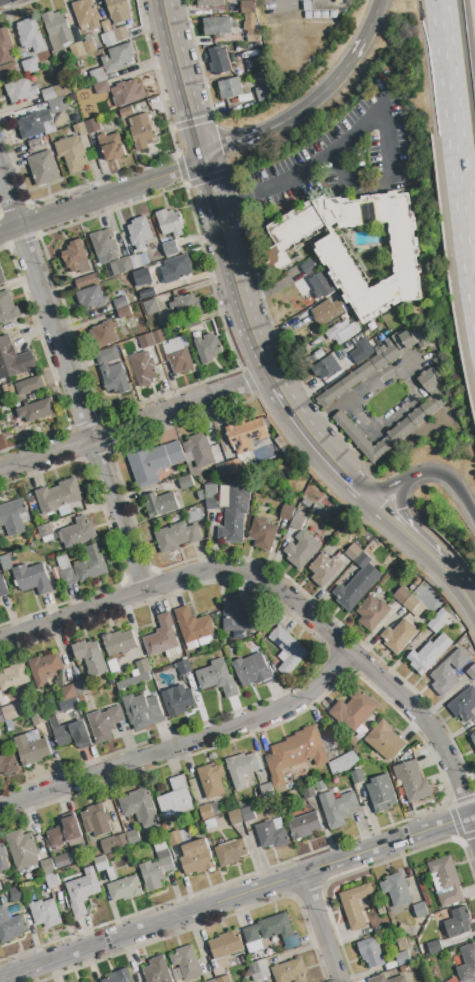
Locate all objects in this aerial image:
building: (209, 2)
building: (246, 7)
building: (118, 10)
building: (86, 15)
building: (216, 27)
building: (251, 29)
building: (57, 30)
building: (107, 34)
building: (120, 34)
building: (30, 35)
road: (359, 44)
building: (89, 45)
building: (5, 47)
building: (77, 50)
building: (118, 57)
building: (219, 61)
building: (254, 64)
building: (30, 66)
building: (8, 72)
building: (97, 76)
building: (101, 88)
building: (230, 88)
building: (20, 91)
building: (262, 91)
building: (55, 92)
building: (128, 92)
building: (57, 105)
building: (139, 106)
building: (126, 112)
road: (386, 116)
building: (36, 124)
building: (92, 126)
road: (271, 128)
building: (80, 129)
building: (142, 131)
road: (456, 144)
building: (111, 146)
building: (72, 154)
building: (44, 168)
road: (101, 195)
road: (211, 195)
road: (237, 198)
building: (169, 223)
building: (140, 233)
building: (104, 245)
building: (170, 249)
building: (335, 258)
building: (76, 259)
building: (138, 261)
building: (123, 265)
building: (308, 267)
building: (175, 269)
building: (296, 276)
building: (1, 278)
building: (86, 281)
building: (322, 285)
building: (147, 293)
building: (90, 298)
building: (120, 303)
building: (186, 306)
building: (7, 307)
building: (150, 307)
building: (326, 312)
building: (123, 313)
building: (341, 332)
building: (103, 334)
building: (152, 339)
building: (208, 349)
building: (361, 351)
building: (177, 356)
building: (14, 360)
building: (377, 362)
building: (326, 368)
building: (143, 369)
building: (111, 371)
road: (406, 377)
road: (70, 380)
building: (29, 386)
building: (36, 411)
building: (419, 415)
road: (135, 421)
building: (245, 435)
road: (318, 444)
building: (199, 450)
building: (153, 462)
building: (230, 467)
building: (185, 482)
road: (455, 482)
road: (393, 483)
road: (401, 488)
building: (59, 497)
building: (211, 498)
building: (160, 505)
building: (234, 511)
building: (286, 513)
building: (13, 517)
building: (297, 521)
building: (44, 531)
road: (402, 531)
building: (77, 533)
building: (262, 534)
building: (176, 537)
road: (420, 539)
building: (362, 541)
building: (346, 546)
building: (301, 550)
building: (353, 552)
building: (6, 563)
building: (85, 568)
building: (326, 568)
building: (32, 579)
building: (358, 583)
road: (459, 586)
building: (3, 588)
road: (288, 594)
building: (401, 595)
building: (413, 606)
building: (372, 613)
building: (237, 617)
building: (439, 621)
building: (193, 626)
building: (399, 636)
building: (161, 637)
building: (119, 642)
building: (288, 650)
building: (428, 654)
building: (90, 658)
building: (143, 667)
building: (184, 668)
building: (44, 669)
building: (253, 670)
building: (448, 672)
building: (471, 673)
building: (13, 677)
building: (217, 678)
building: (133, 682)
building: (74, 690)
building: (177, 701)
building: (464, 705)
building: (354, 710)
building: (13, 711)
building: (142, 712)
building: (1, 718)
building: (37, 718)
building: (104, 723)
building: (70, 733)
building: (473, 739)
building: (385, 741)
road: (184, 748)
building: (31, 750)
building: (295, 754)
building: (7, 763)
building: (342, 764)
building: (242, 769)
building: (357, 777)
building: (211, 780)
building: (412, 781)
building: (321, 786)
building: (266, 791)
building: (308, 792)
building: (381, 794)
building: (175, 799)
building: (140, 807)
building: (337, 808)
building: (215, 809)
building: (206, 812)
building: (247, 814)
building: (234, 817)
building: (96, 820)
building: (210, 824)
building: (304, 826)
building: (64, 833)
building: (271, 834)
building: (133, 838)
building: (174, 839)
building: (115, 844)
building: (22, 849)
building: (230, 853)
building: (196, 857)
building: (3, 858)
building: (62, 861)
building: (47, 866)
building: (104, 867)
building: (156, 868)
building: (52, 880)
building: (446, 880)
building: (0, 889)
building: (125, 889)
building: (396, 890)
building: (82, 892)
building: (17, 895)
road: (237, 895)
building: (355, 905)
building: (420, 910)
building: (45, 913)
building: (458, 923)
building: (10, 926)
road: (319, 927)
building: (272, 931)
building: (226, 944)
building: (402, 944)
building: (434, 948)
building: (370, 953)
building: (403, 959)
building: (186, 963)
building: (467, 963)
building: (404, 969)
building: (157, 971)
building: (259, 971)
building: (290, 972)
building: (119, 977)
building: (379, 978)
building: (223, 979)
building: (452, 980)
building: (90, 981)
building: (213, 981)

